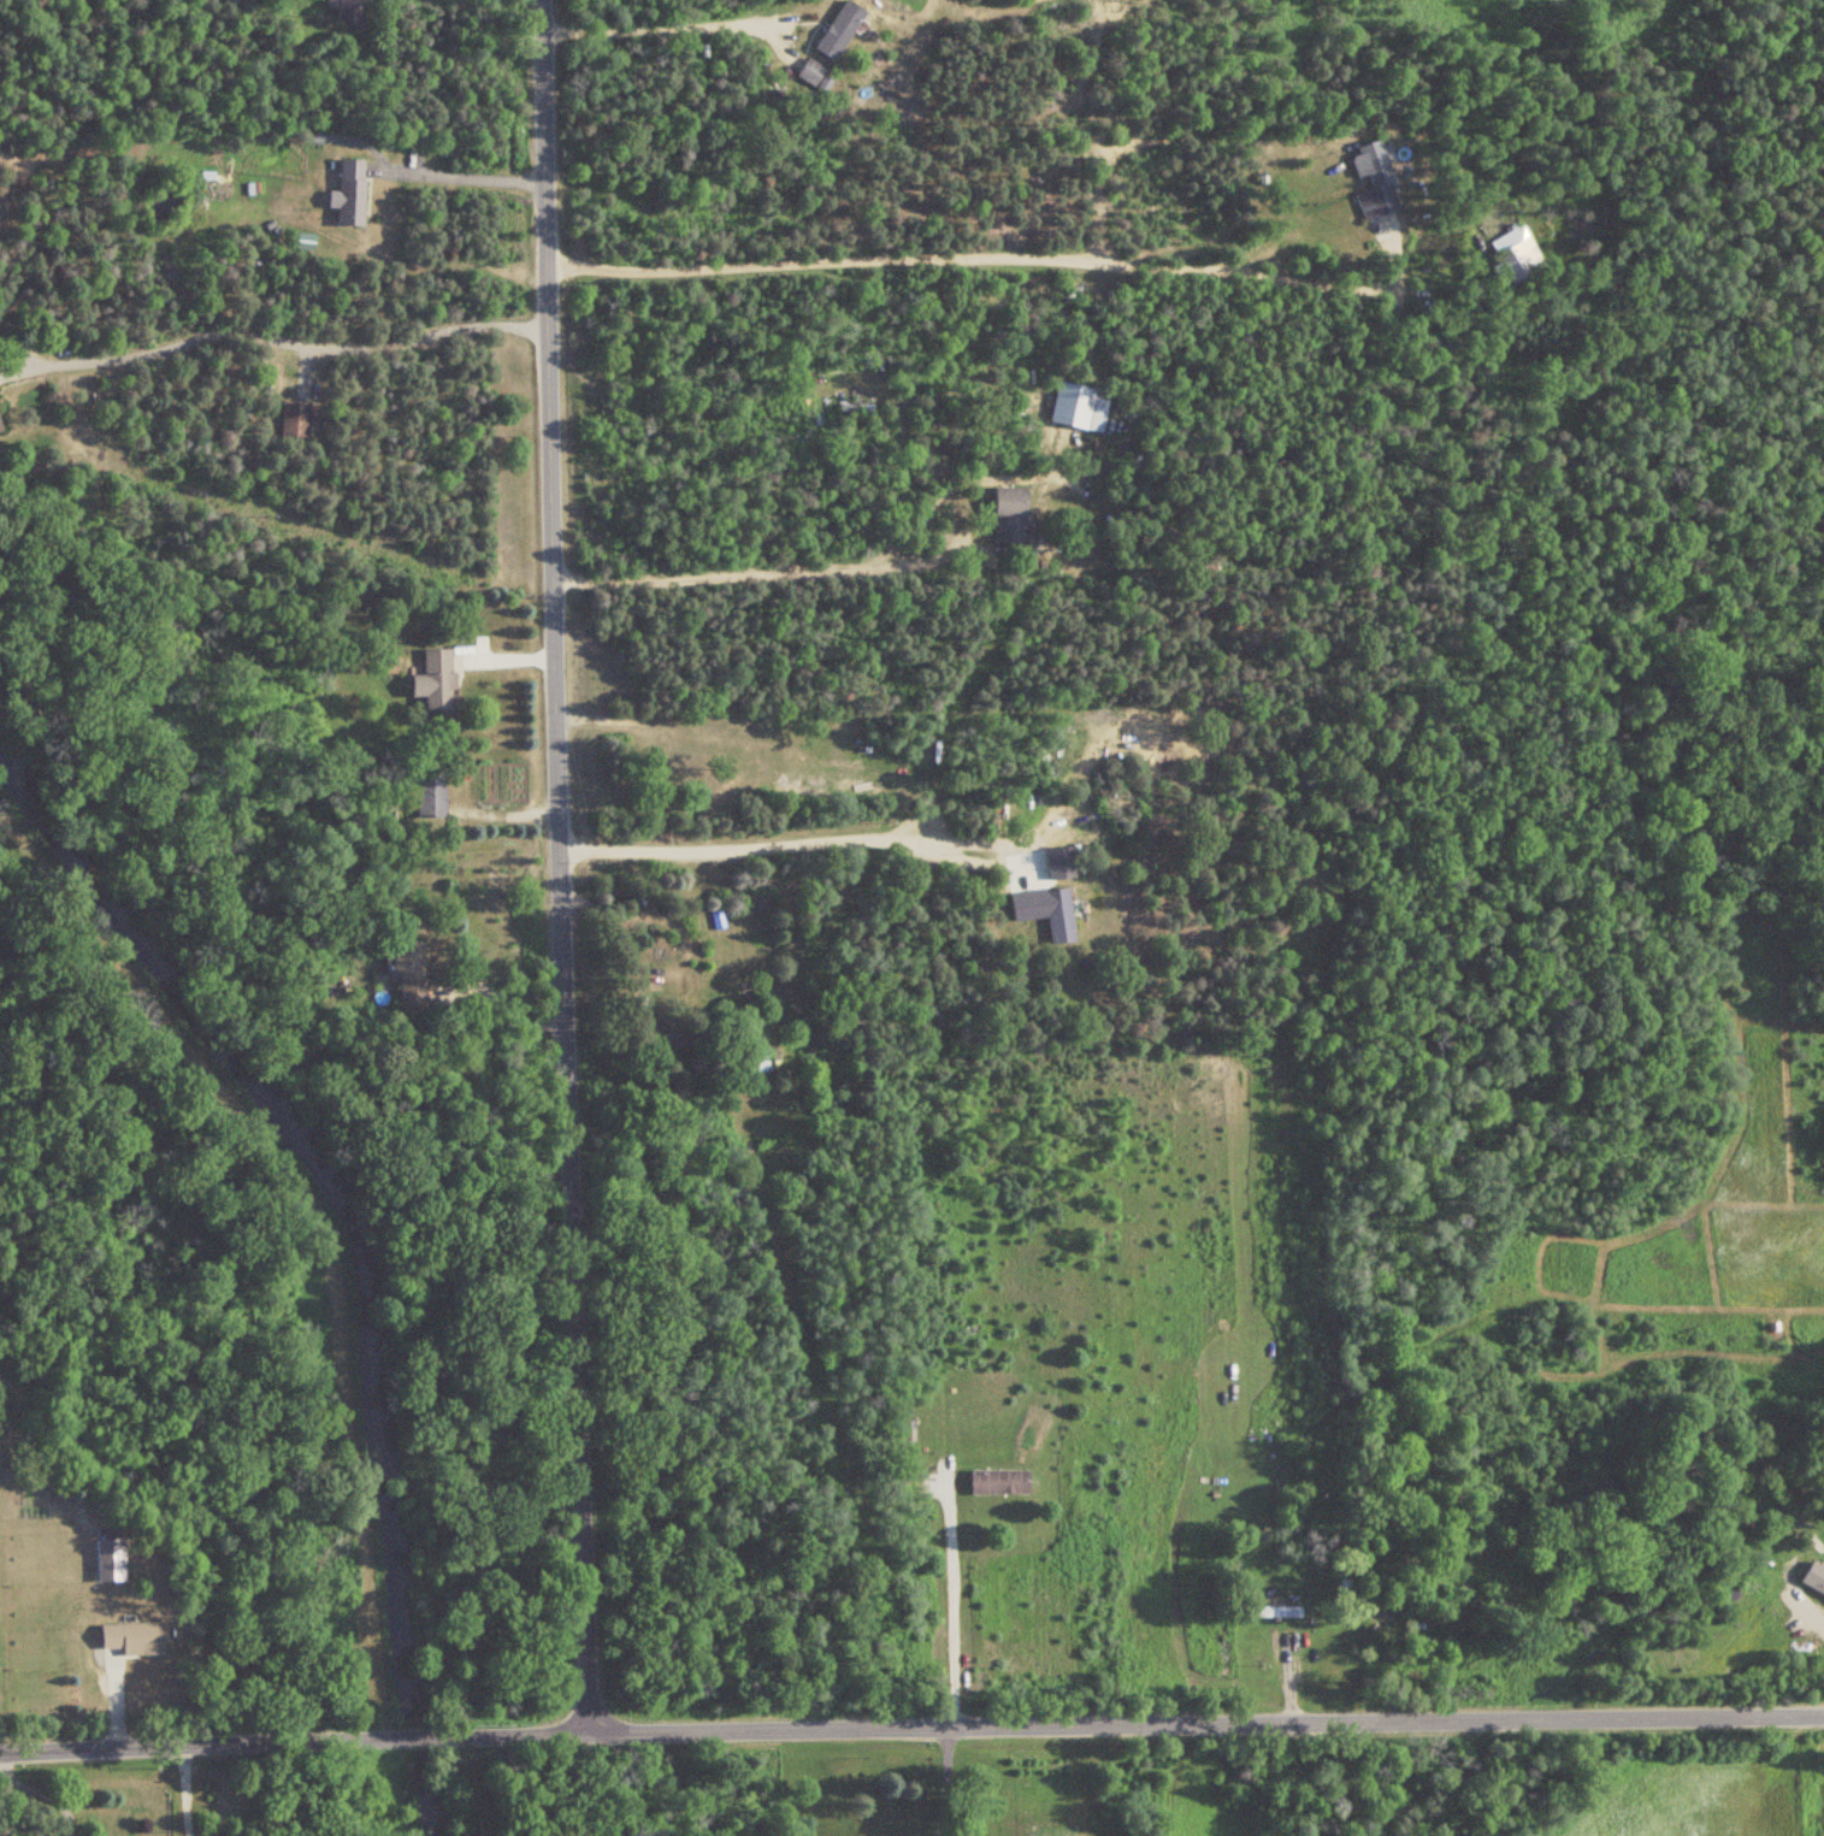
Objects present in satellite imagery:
building: (344, 8)
road: (667, 26)
building: (837, 29)
building: (808, 71)
road: (455, 173)
building: (1371, 178)
building: (344, 193)
road: (992, 256)
building: (1517, 259)
road: (276, 338)
building: (1074, 406)
building: (852, 408)
building: (290, 419)
building: (1007, 514)
road: (786, 579)
building: (433, 679)
building: (425, 795)
road: (796, 842)
building: (1056, 862)
road: (565, 866)
building: (1055, 915)
building: (403, 973)
road: (507, 1004)
building: (656, 1040)
building: (756, 1067)
building: (994, 1482)
building: (106, 1560)
building: (1812, 1578)
road: (949, 1596)
building: (1269, 1612)
building: (129, 1639)
road: (1206, 1719)
road: (524, 1735)
road: (229, 1742)
road: (945, 1781)
road: (470, 1787)
road: (184, 1789)
road: (36, 1791)

